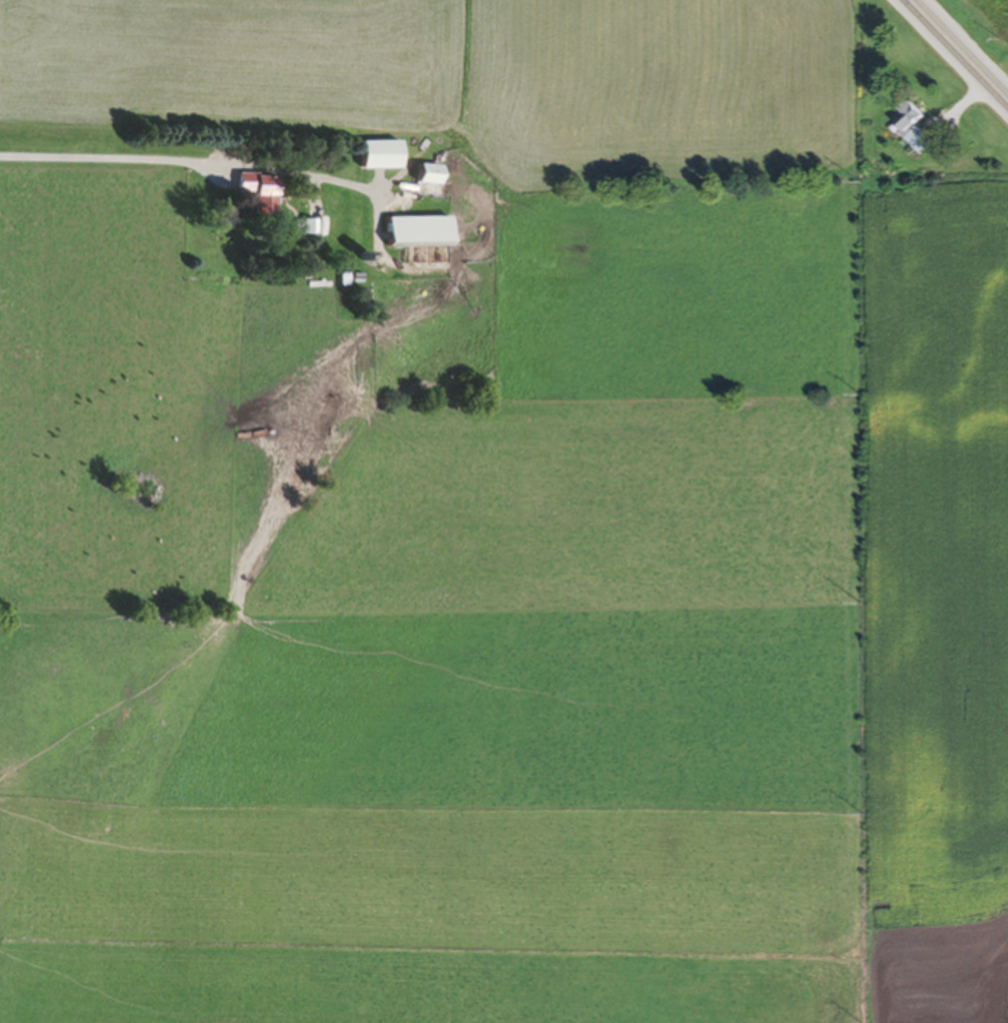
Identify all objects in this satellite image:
road: (960, 49)
building: (915, 131)
road: (190, 155)
building: (378, 158)
building: (428, 177)
building: (256, 193)
building: (303, 230)
building: (418, 234)

